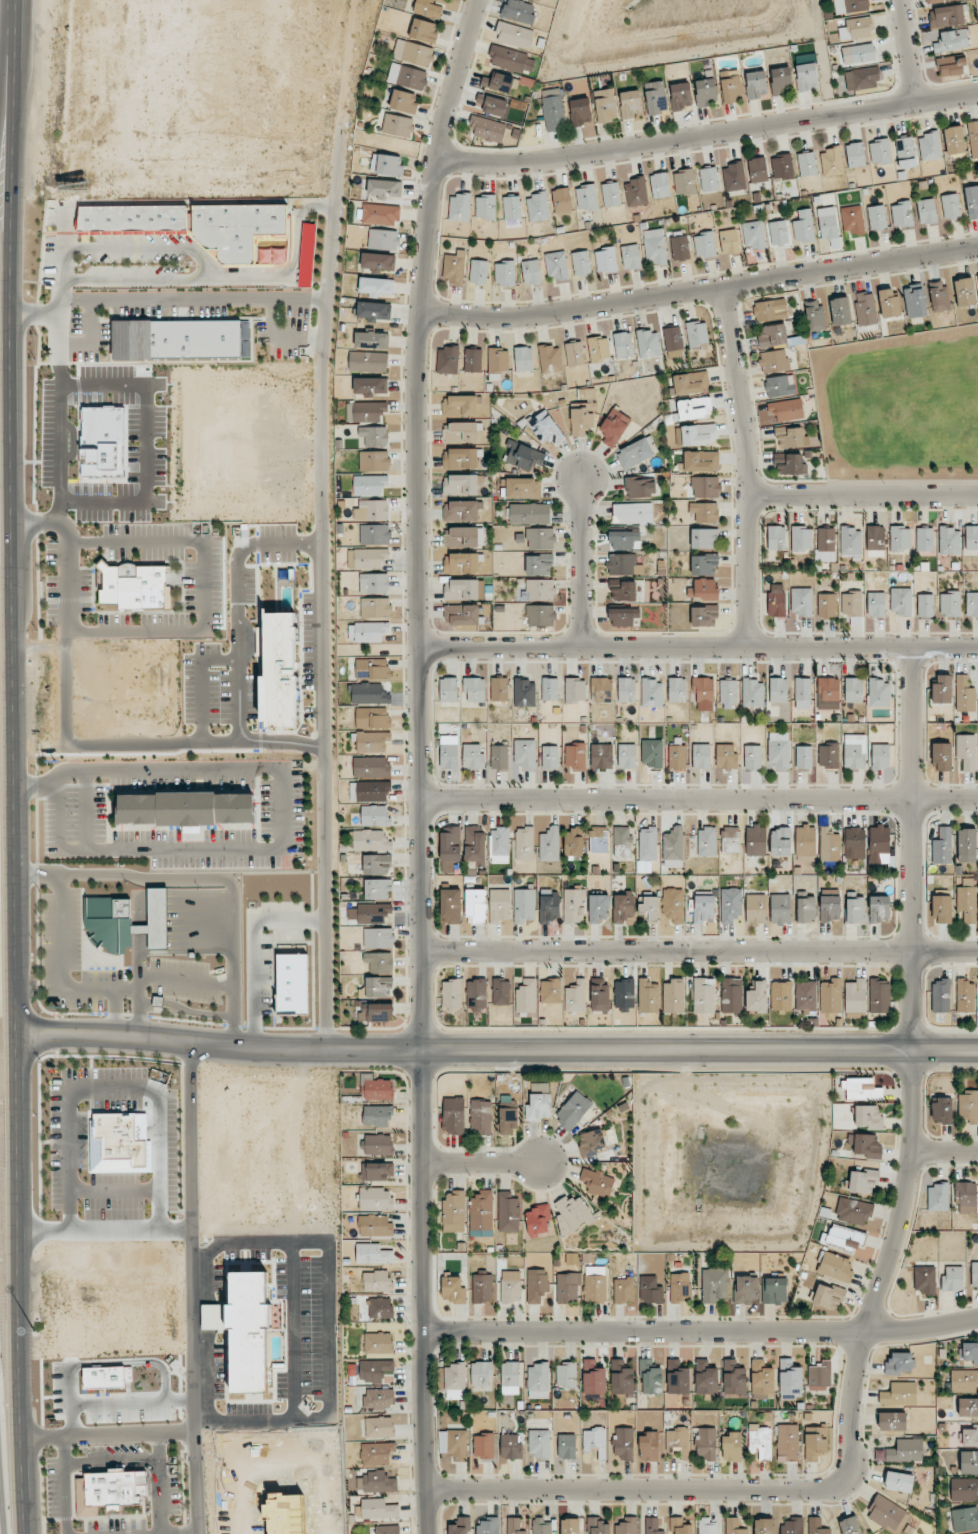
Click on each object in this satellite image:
building: (538, 0)
building: (935, 0)
building: (850, 6)
building: (428, 7)
building: (518, 11)
building: (946, 16)
building: (857, 28)
building: (424, 30)
building: (514, 35)
road: (4, 39)
building: (952, 41)
road: (907, 52)
building: (413, 53)
building: (858, 53)
building: (511, 59)
building: (952, 65)
building: (407, 76)
building: (806, 76)
building: (862, 78)
building: (781, 81)
building: (498, 82)
building: (756, 84)
building: (731, 89)
building: (706, 92)
building: (681, 96)
building: (655, 98)
building: (403, 101)
building: (490, 104)
building: (630, 104)
building: (605, 105)
building: (553, 109)
building: (579, 111)
building: (398, 125)
building: (487, 129)
road: (707, 137)
building: (973, 138)
building: (954, 140)
building: (929, 147)
building: (879, 151)
building: (905, 152)
building: (855, 155)
building: (831, 161)
building: (807, 164)
building: (386, 165)
building: (782, 167)
building: (757, 170)
building: (733, 177)
building: (709, 179)
building: (684, 182)
building: (660, 185)
building: (384, 188)
building: (636, 192)
building: (611, 194)
building: (586, 197)
building: (561, 200)
building: (972, 201)
building: (951, 205)
building: (538, 206)
building: (459, 207)
building: (485, 207)
building: (512, 207)
building: (927, 211)
building: (380, 214)
building: (902, 214)
building: (877, 217)
building: (852, 219)
building: (133, 220)
building: (828, 225)
building: (803, 226)
building: (237, 229)
building: (778, 233)
building: (754, 235)
building: (383, 239)
building: (729, 242)
building: (704, 245)
building: (655, 247)
building: (680, 248)
building: (307, 255)
building: (279, 256)
building: (631, 256)
building: (606, 260)
building: (377, 262)
building: (581, 263)
building: (556, 265)
road: (207, 267)
building: (454, 267)
road: (294, 268)
building: (478, 272)
building: (531, 272)
building: (505, 273)
road: (60, 282)
building: (376, 286)
road: (699, 292)
building: (964, 292)
building: (939, 296)
road: (192, 298)
building: (914, 301)
building: (889, 302)
building: (865, 308)
building: (373, 310)
building: (770, 310)
road: (33, 311)
building: (840, 311)
building: (814, 315)
building: (697, 335)
building: (772, 335)
road: (278, 336)
building: (672, 338)
road: (91, 339)
building: (183, 339)
building: (371, 340)
building: (623, 344)
building: (648, 344)
building: (598, 348)
building: (574, 353)
building: (523, 359)
building: (550, 359)
building: (447, 360)
building: (473, 360)
building: (498, 360)
building: (368, 361)
building: (773, 361)
building: (691, 382)
building: (370, 386)
building: (779, 386)
building: (586, 393)
building: (461, 405)
building: (694, 408)
building: (786, 409)
park: (900, 409)
building: (365, 411)
building: (582, 418)
building: (614, 427)
building: (545, 428)
building: (461, 432)
building: (698, 434)
building: (374, 436)
building: (789, 437)
building: (634, 454)
building: (524, 456)
building: (460, 458)
building: (374, 461)
building: (699, 461)
building: (790, 463)
road: (745, 466)
building: (369, 484)
building: (460, 484)
building: (640, 487)
building: (705, 487)
building: (523, 488)
road: (863, 494)
building: (372, 510)
building: (461, 510)
building: (704, 512)
building: (529, 513)
building: (632, 513)
building: (375, 534)
building: (464, 537)
building: (776, 537)
building: (875, 537)
building: (971, 537)
building: (540, 538)
building: (704, 538)
building: (900, 538)
building: (623, 539)
building: (801, 539)
building: (949, 540)
building: (925, 541)
building: (851, 543)
building: (825, 544)
road: (66, 550)
building: (370, 558)
road: (577, 561)
building: (462, 563)
building: (538, 564)
building: (622, 564)
building: (704, 565)
building: (374, 583)
road: (206, 585)
building: (127, 586)
building: (464, 589)
building: (540, 589)
building: (703, 590)
building: (623, 591)
building: (801, 601)
building: (900, 601)
building: (776, 604)
building: (851, 604)
building: (875, 604)
building: (950, 604)
building: (972, 604)
building: (925, 605)
building: (826, 606)
building: (375, 607)
building: (461, 614)
building: (541, 615)
building: (623, 616)
building: (704, 616)
road: (321, 624)
building: (368, 632)
road: (698, 645)
building: (372, 669)
building: (280, 672)
building: (448, 689)
building: (475, 689)
building: (499, 689)
building: (550, 689)
building: (601, 689)
building: (677, 689)
building: (703, 689)
building: (802, 689)
building: (829, 689)
building: (575, 690)
building: (626, 690)
building: (778, 690)
building: (853, 690)
building: (942, 690)
building: (728, 691)
building: (524, 692)
building: (371, 693)
building: (652, 693)
building: (753, 693)
building: (964, 694)
building: (372, 718)
building: (372, 741)
building: (778, 749)
building: (854, 751)
building: (966, 751)
building: (449, 752)
building: (652, 753)
building: (525, 754)
building: (828, 755)
building: (473, 756)
building: (575, 756)
building: (600, 756)
building: (626, 756)
building: (701, 756)
building: (726, 756)
building: (880, 756)
building: (941, 756)
building: (499, 757)
building: (550, 757)
building: (677, 757)
building: (752, 757)
building: (803, 757)
road: (420, 764)
road: (10, 767)
building: (371, 767)
road: (175, 770)
road: (40, 784)
building: (372, 790)
road: (699, 801)
building: (185, 809)
road: (282, 809)
road: (86, 810)
road: (59, 813)
building: (375, 816)
building: (598, 839)
building: (371, 840)
building: (730, 840)
building: (755, 840)
building: (805, 841)
building: (573, 842)
building: (622, 842)
building: (706, 842)
building: (780, 842)
building: (524, 843)
building: (855, 843)
building: (549, 844)
building: (647, 844)
building: (830, 844)
building: (451, 845)
building: (475, 845)
building: (499, 845)
building: (966, 845)
building: (942, 846)
building: (673, 847)
road: (171, 849)
building: (377, 864)
road: (103, 874)
road: (192, 880)
building: (377, 888)
road: (185, 892)
road: (186, 899)
building: (967, 903)
building: (731, 904)
building: (476, 905)
building: (499, 905)
building: (524, 905)
building: (673, 905)
road: (186, 906)
building: (451, 906)
building: (573, 906)
building: (703, 907)
building: (549, 908)
building: (598, 908)
building: (623, 908)
building: (650, 908)
building: (829, 908)
building: (879, 908)
building: (942, 908)
building: (756, 909)
building: (780, 909)
building: (806, 909)
building: (855, 909)
building: (373, 912)
road: (186, 914)
road: (186, 921)
building: (126, 922)
road: (186, 928)
road: (139, 934)
road: (186, 937)
building: (379, 938)
road: (187, 944)
road: (253, 949)
road: (187, 950)
road: (698, 950)
road: (62, 955)
building: (379, 961)
road: (234, 969)
road: (187, 981)
building: (291, 983)
building: (379, 987)
building: (501, 991)
building: (550, 991)
building: (452, 993)
building: (599, 993)
building: (476, 994)
building: (624, 994)
building: (704, 995)
building: (940, 995)
building: (526, 996)
building: (648, 996)
building: (674, 996)
building: (731, 996)
building: (781, 996)
building: (805, 996)
building: (831, 996)
building: (855, 996)
building: (879, 996)
building: (965, 996)
building: (576, 997)
building: (757, 997)
building: (376, 1012)
road: (116, 1013)
road: (138, 1013)
road: (496, 1049)
building: (376, 1088)
building: (862, 1089)
building: (538, 1106)
building: (968, 1107)
building: (573, 1110)
building: (941, 1110)
building: (453, 1115)
building: (377, 1116)
building: (480, 1116)
building: (507, 1116)
building: (868, 1117)
building: (592, 1142)
building: (378, 1144)
building: (867, 1145)
road: (944, 1151)
road: (481, 1164)
building: (377, 1171)
building: (863, 1180)
building: (597, 1181)
building: (938, 1197)
building: (966, 1197)
building: (374, 1199)
building: (454, 1211)
building: (854, 1211)
building: (509, 1212)
building: (572, 1214)
building: (482, 1217)
building: (538, 1220)
building: (375, 1225)
building: (844, 1237)
building: (373, 1254)
building: (834, 1266)
road: (881, 1271)
building: (974, 1274)
building: (924, 1279)
building: (953, 1279)
building: (377, 1281)
building: (595, 1284)
building: (536, 1285)
building: (715, 1285)
building: (510, 1286)
building: (680, 1287)
road: (190, 1288)
building: (482, 1288)
building: (568, 1288)
building: (453, 1289)
building: (624, 1290)
building: (650, 1290)
building: (746, 1290)
building: (775, 1290)
building: (828, 1296)
building: (380, 1308)
building: (211, 1316)
building: (248, 1330)
road: (701, 1333)
building: (378, 1343)
building: (970, 1352)
building: (900, 1363)
building: (374, 1369)
building: (482, 1374)
building: (566, 1374)
building: (819, 1376)
building: (650, 1377)
building: (705, 1377)
building: (510, 1378)
building: (621, 1378)
building: (677, 1378)
building: (733, 1378)
building: (593, 1379)
building: (762, 1379)
building: (454, 1380)
building: (538, 1380)
building: (963, 1380)
building: (899, 1394)
building: (378, 1399)
building: (968, 1407)
building: (892, 1421)
building: (379, 1427)
road: (106, 1433)
building: (970, 1434)
building: (677, 1440)
building: (595, 1441)
building: (760, 1441)
building: (787, 1442)
building: (815, 1442)
building: (539, 1443)
building: (623, 1443)
building: (706, 1444)
building: (456, 1445)
building: (483, 1446)
building: (566, 1446)
building: (648, 1446)
building: (510, 1447)
building: (732, 1447)
building: (902, 1451)
building: (376, 1453)
road: (4, 1459)
road: (112, 1461)
building: (969, 1462)
road: (160, 1482)
building: (375, 1482)
building: (899, 1482)
road: (64, 1484)
road: (41, 1485)
building: (964, 1489)
building: (378, 1509)
building: (886, 1514)
building: (965, 1519)
building: (488, 1525)
building: (599, 1525)
building: (792, 1525)
building: (459, 1526)
building: (514, 1526)
building: (541, 1526)
building: (570, 1526)
building: (627, 1526)
building: (652, 1526)
building: (679, 1526)
building: (707, 1526)
building: (734, 1526)
building: (763, 1526)
building: (816, 1526)
building: (850, 1526)
building: (387, 1529)
road: (169, 1532)

